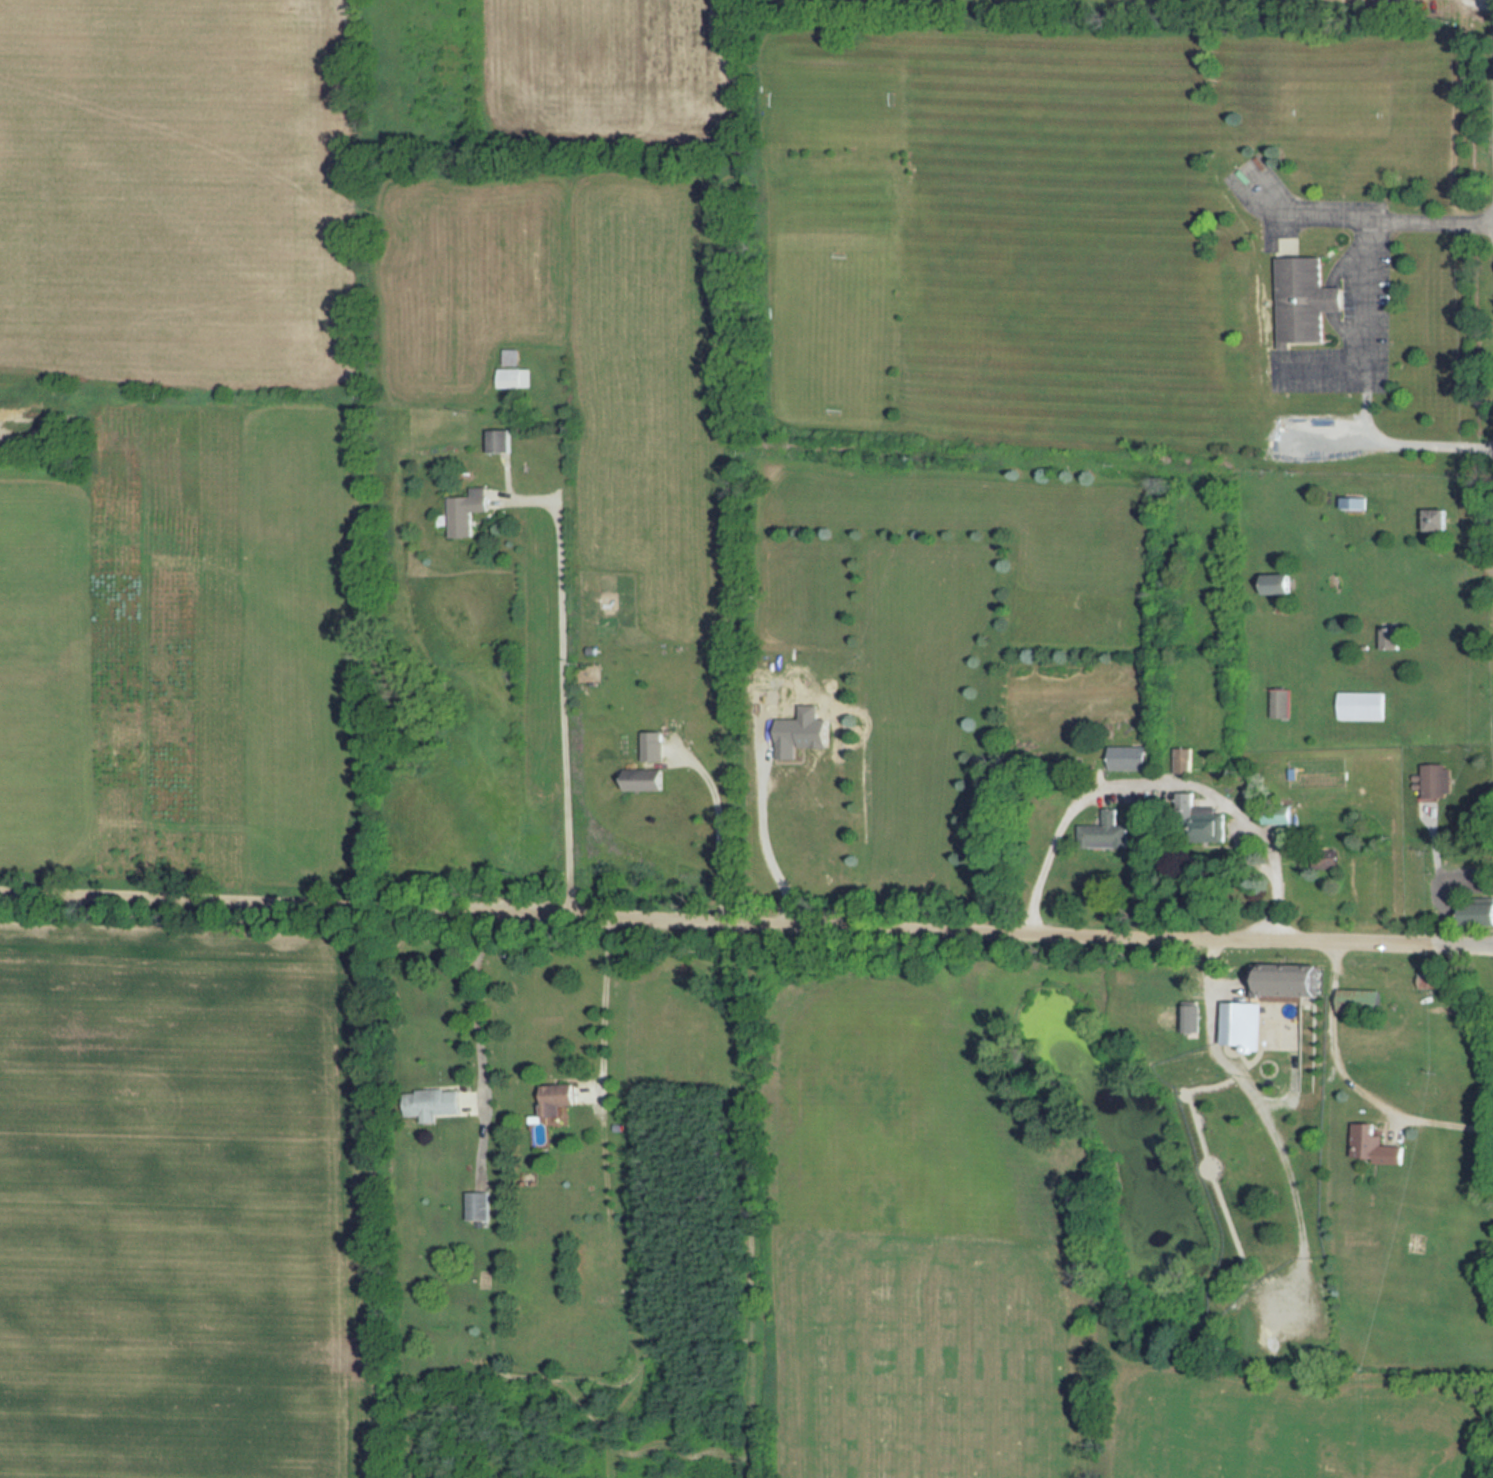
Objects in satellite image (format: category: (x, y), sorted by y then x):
road: (1271, 200)
road: (1319, 220)
road: (1442, 221)
flagpole: (1339, 259)
parking lot: (1375, 284)
road: (1330, 298)
building: (1328, 300)
building: (1296, 301)
road: (1365, 341)
building: (510, 357)
building: (514, 378)
road: (1397, 444)
building: (469, 510)
building: (1438, 518)
building: (1279, 582)
building: (1391, 637)
road: (562, 689)
building: (1279, 702)
building: (1361, 705)
building: (1128, 757)
building: (1183, 760)
building: (648, 779)
building: (1432, 779)
road: (1159, 783)
building: (1187, 803)
building: (1106, 832)
road: (717, 833)
road: (1431, 834)
road: (768, 840)
road: (1440, 875)
parking lot: (1461, 882)
road: (1442, 888)
building: (1481, 913)
road: (716, 920)
road: (1462, 942)
building: (1433, 980)
building: (1270, 992)
building: (1359, 1000)
road: (608, 1004)
building: (1191, 1017)
road: (478, 1042)
road: (1227, 1060)
road: (1353, 1085)
building: (558, 1098)
building: (439, 1102)
building: (1376, 1143)
road: (1207, 1152)
road: (1296, 1197)
building: (478, 1205)

